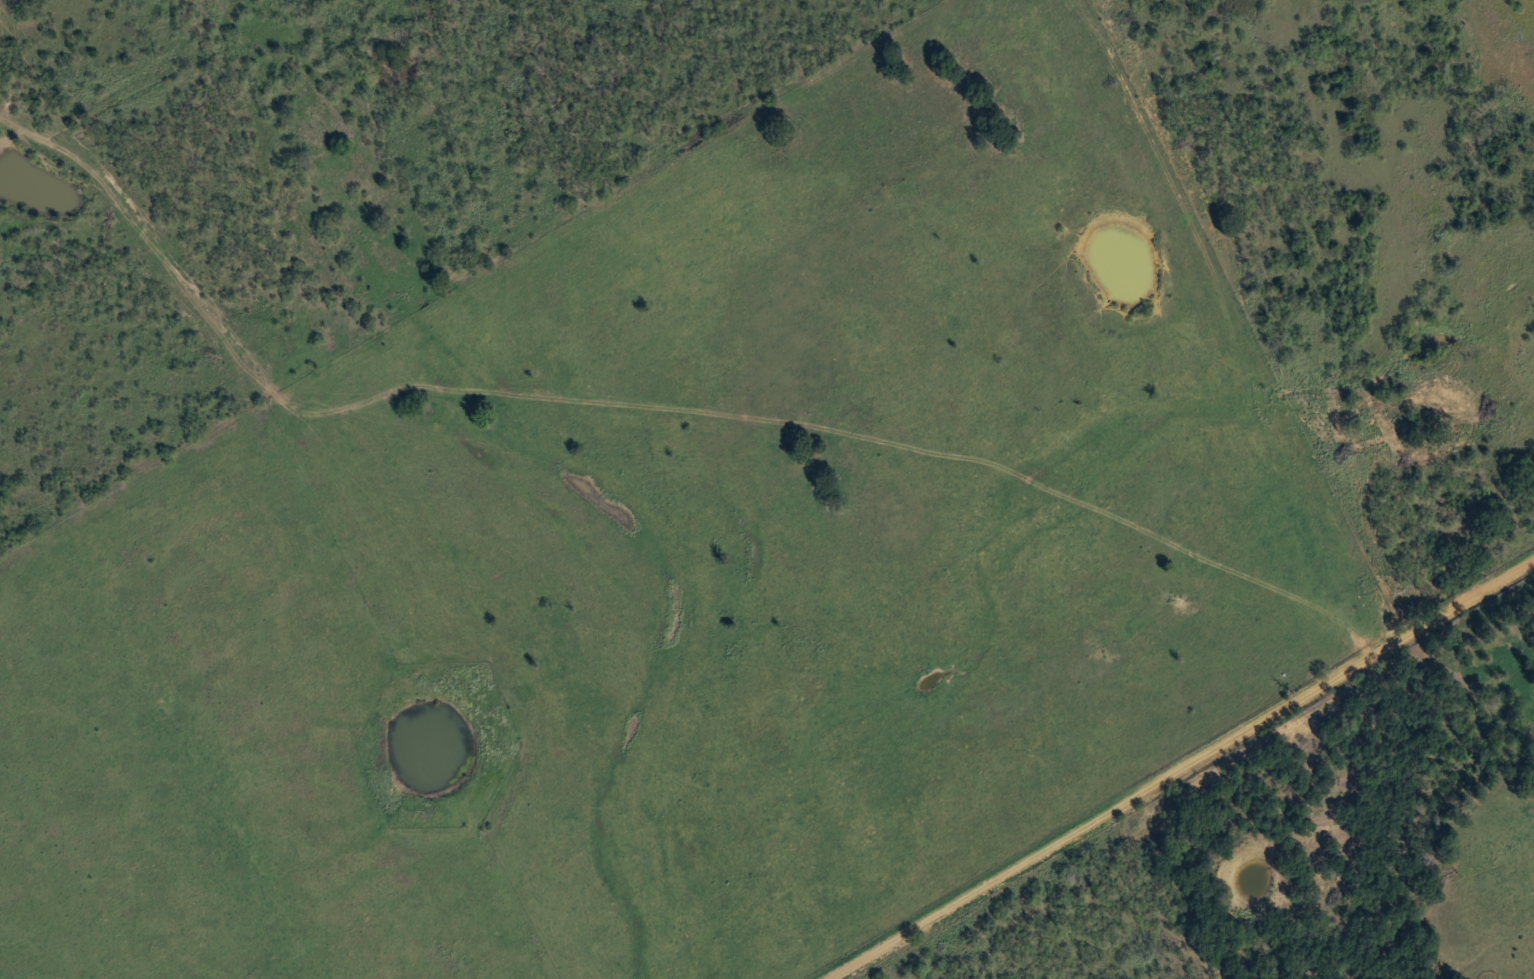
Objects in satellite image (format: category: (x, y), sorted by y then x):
road: (1173, 765)

